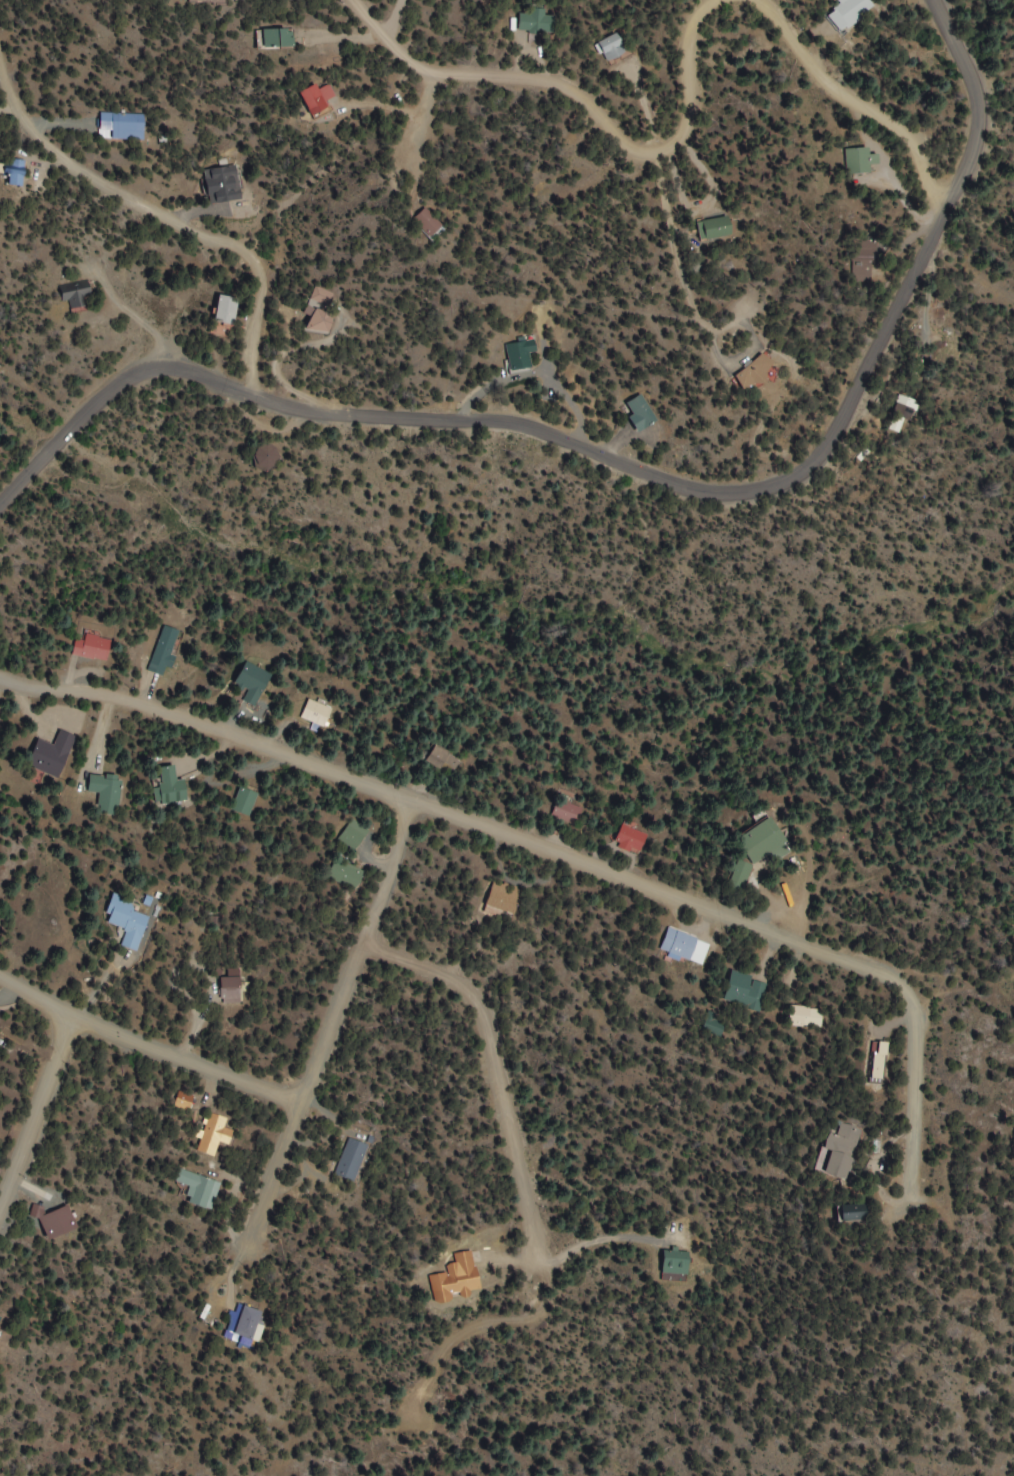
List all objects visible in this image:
building: (208, 0)
building: (849, 13)
building: (535, 22)
building: (276, 36)
building: (611, 46)
building: (316, 97)
road: (851, 103)
road: (582, 107)
building: (120, 125)
road: (416, 142)
building: (858, 160)
building: (14, 171)
building: (222, 183)
road: (163, 217)
building: (426, 222)
building: (713, 228)
building: (863, 261)
building: (75, 293)
building: (321, 295)
building: (224, 314)
building: (317, 319)
building: (520, 353)
building: (754, 370)
building: (640, 412)
building: (902, 412)
road: (632, 466)
building: (91, 647)
building: (163, 650)
building: (251, 682)
building: (316, 713)
building: (51, 754)
building: (443, 762)
building: (170, 787)
building: (105, 792)
building: (245, 801)
building: (567, 811)
road: (475, 830)
building: (353, 834)
building: (629, 839)
building: (762, 841)
building: (739, 874)
building: (345, 875)
building: (502, 898)
building: (126, 922)
building: (684, 947)
building: (229, 988)
building: (744, 991)
road: (36, 998)
building: (805, 1017)
building: (717, 1027)
road: (320, 1039)
road: (181, 1060)
building: (876, 1062)
road: (490, 1067)
building: (183, 1101)
road: (36, 1114)
road: (909, 1117)
building: (213, 1134)
building: (839, 1151)
building: (350, 1160)
building: (202, 1193)
building: (854, 1213)
building: (53, 1221)
building: (674, 1262)
building: (244, 1323)

